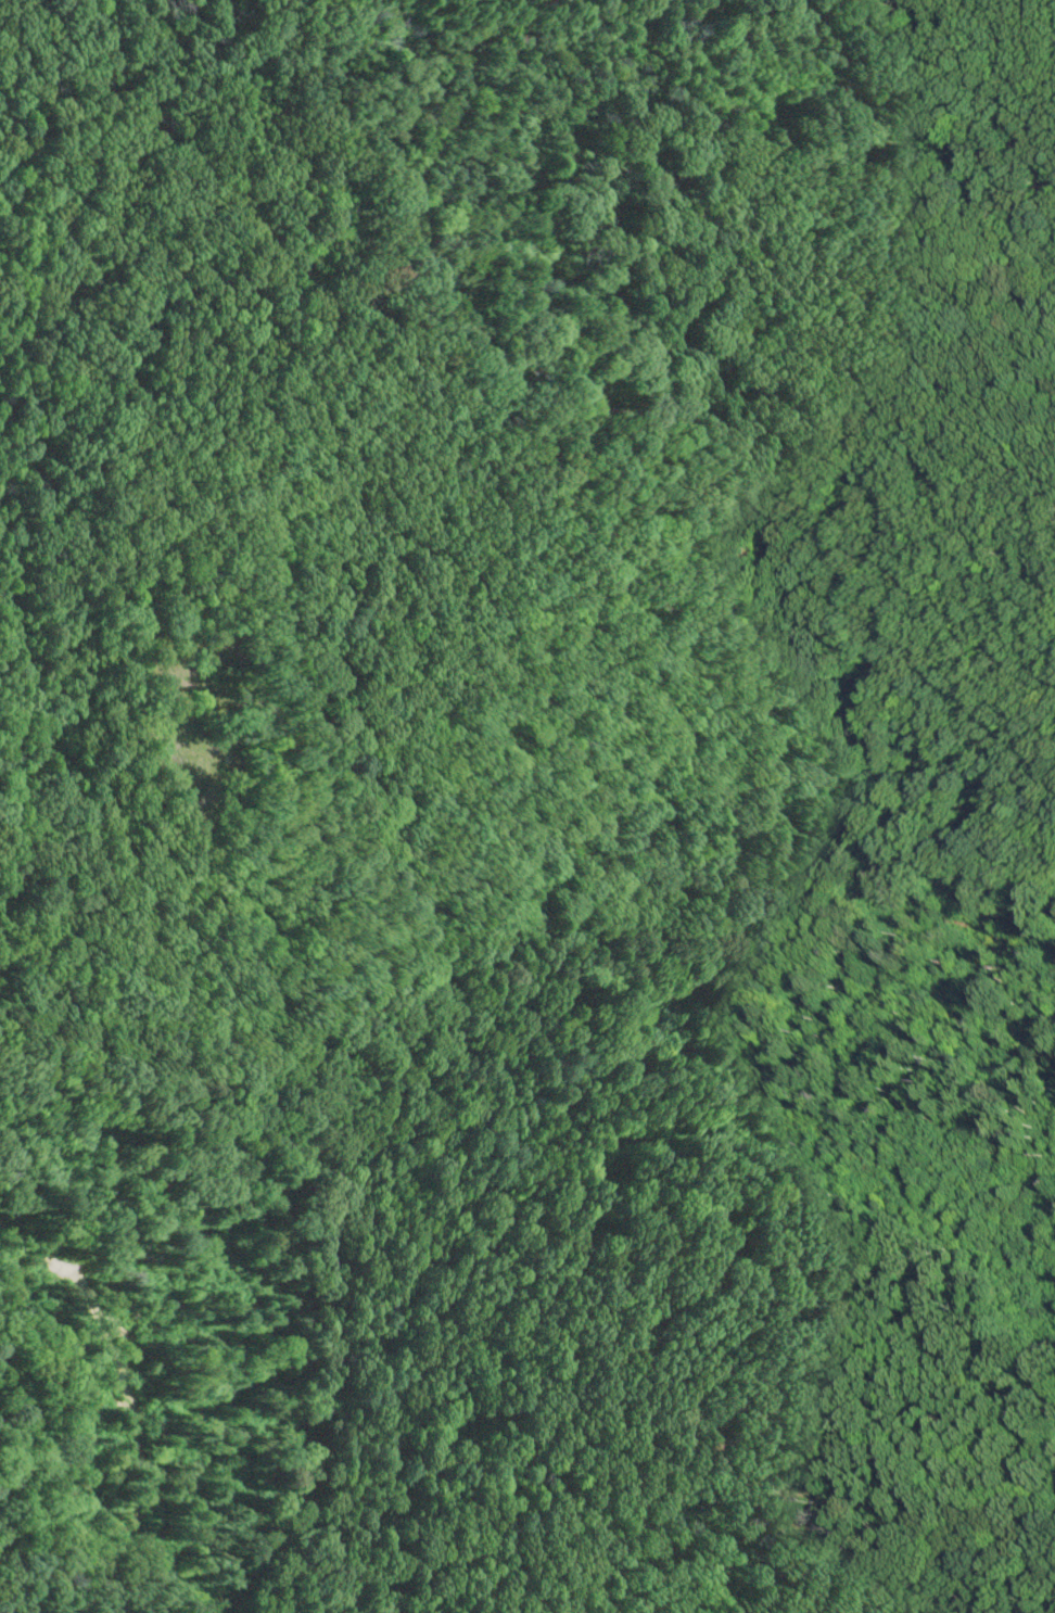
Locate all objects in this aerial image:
road: (3, 1235)
road: (125, 1406)

